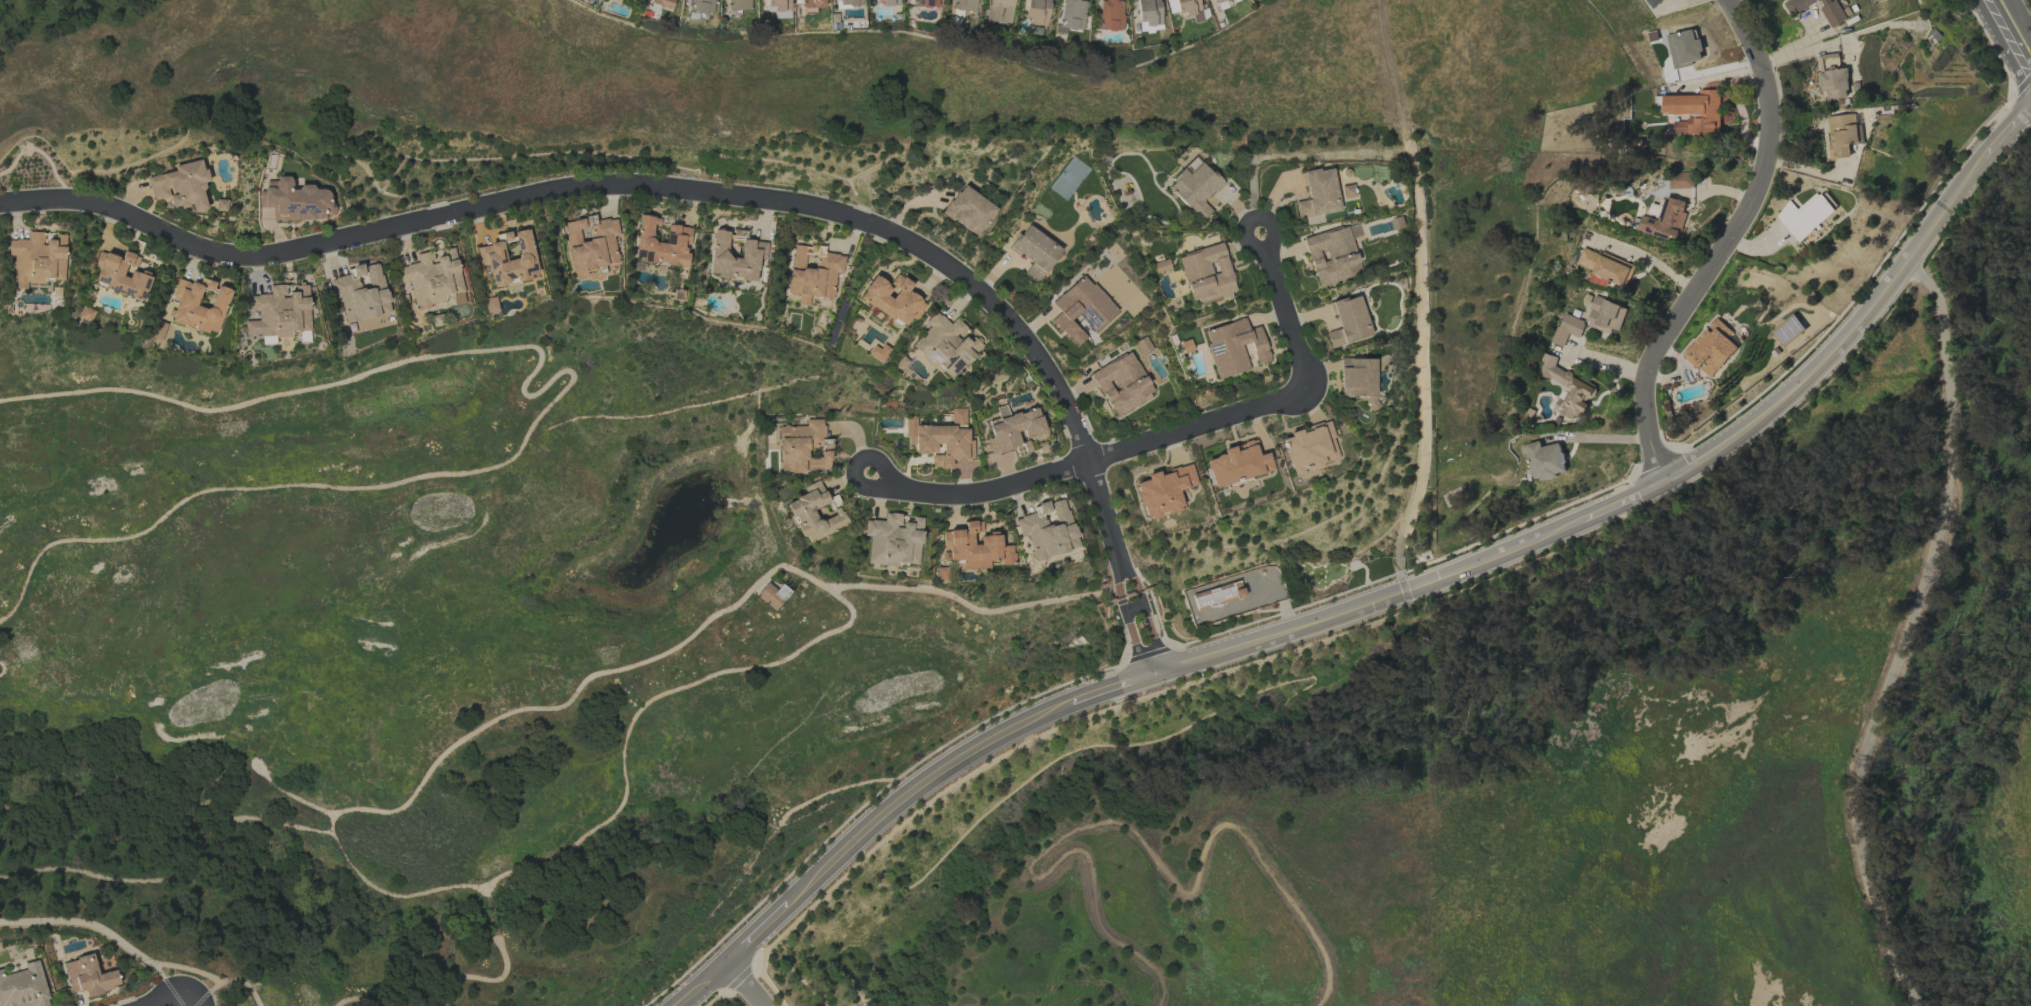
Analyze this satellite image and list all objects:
building: (1874, 0)
building: (850, 2)
building: (886, 2)
building: (1650, 2)
building: (663, 3)
building: (812, 3)
building: (925, 3)
building: (738, 5)
building: (965, 5)
building: (701, 6)
building: (1185, 8)
building: (1831, 9)
building: (1001, 11)
building: (1037, 12)
building: (1073, 14)
building: (1110, 15)
road: (2019, 19)
road: (2005, 41)
building: (1831, 76)
building: (1693, 112)
building: (1842, 134)
building: (1680, 180)
building: (181, 186)
building: (1194, 187)
road: (596, 188)
building: (1317, 193)
building: (296, 200)
building: (968, 211)
building: (1805, 215)
building: (1663, 218)
building: (591, 242)
building: (661, 243)
road: (1726, 244)
building: (1034, 252)
building: (1332, 254)
building: (736, 258)
building: (37, 259)
road: (1649, 259)
building: (508, 260)
building: (1603, 266)
building: (1161, 267)
building: (813, 272)
building: (1206, 273)
building: (120, 275)
building: (433, 278)
building: (361, 292)
building: (893, 300)
building: (188, 307)
building: (1081, 309)
building: (280, 312)
road: (1868, 312)
road: (1284, 313)
building: (1605, 313)
building: (86, 314)
building: (1347, 322)
building: (1566, 328)
building: (158, 330)
building: (945, 345)
building: (1233, 347)
building: (1710, 347)
road: (1603, 360)
building: (1357, 379)
building: (1122, 383)
road: (567, 385)
building: (1565, 387)
road: (1199, 427)
building: (1013, 430)
road: (1604, 436)
building: (942, 440)
building: (803, 447)
building: (1310, 448)
building: (1544, 459)
building: (1237, 464)
building: (1164, 491)
road: (979, 495)
building: (802, 512)
building: (1048, 529)
building: (893, 540)
building: (975, 547)
road: (1124, 571)
building: (942, 573)
building: (1218, 594)
building: (772, 596)
road: (1908, 635)
road: (1, 670)
road: (1133, 685)
park: (417, 695)
road: (105, 932)
building: (89, 976)
road: (745, 983)
building: (23, 987)
road: (172, 1000)
road: (196, 1000)

